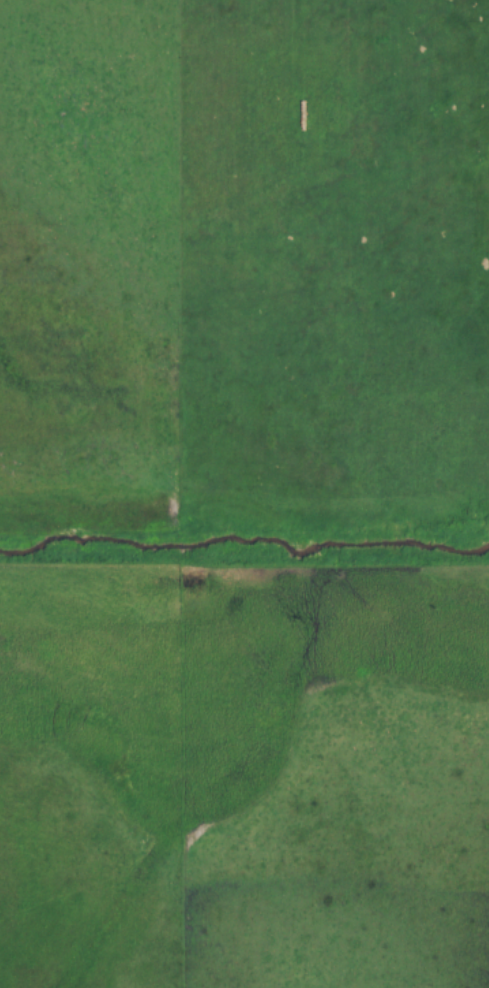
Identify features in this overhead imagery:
river: (245, 548)

